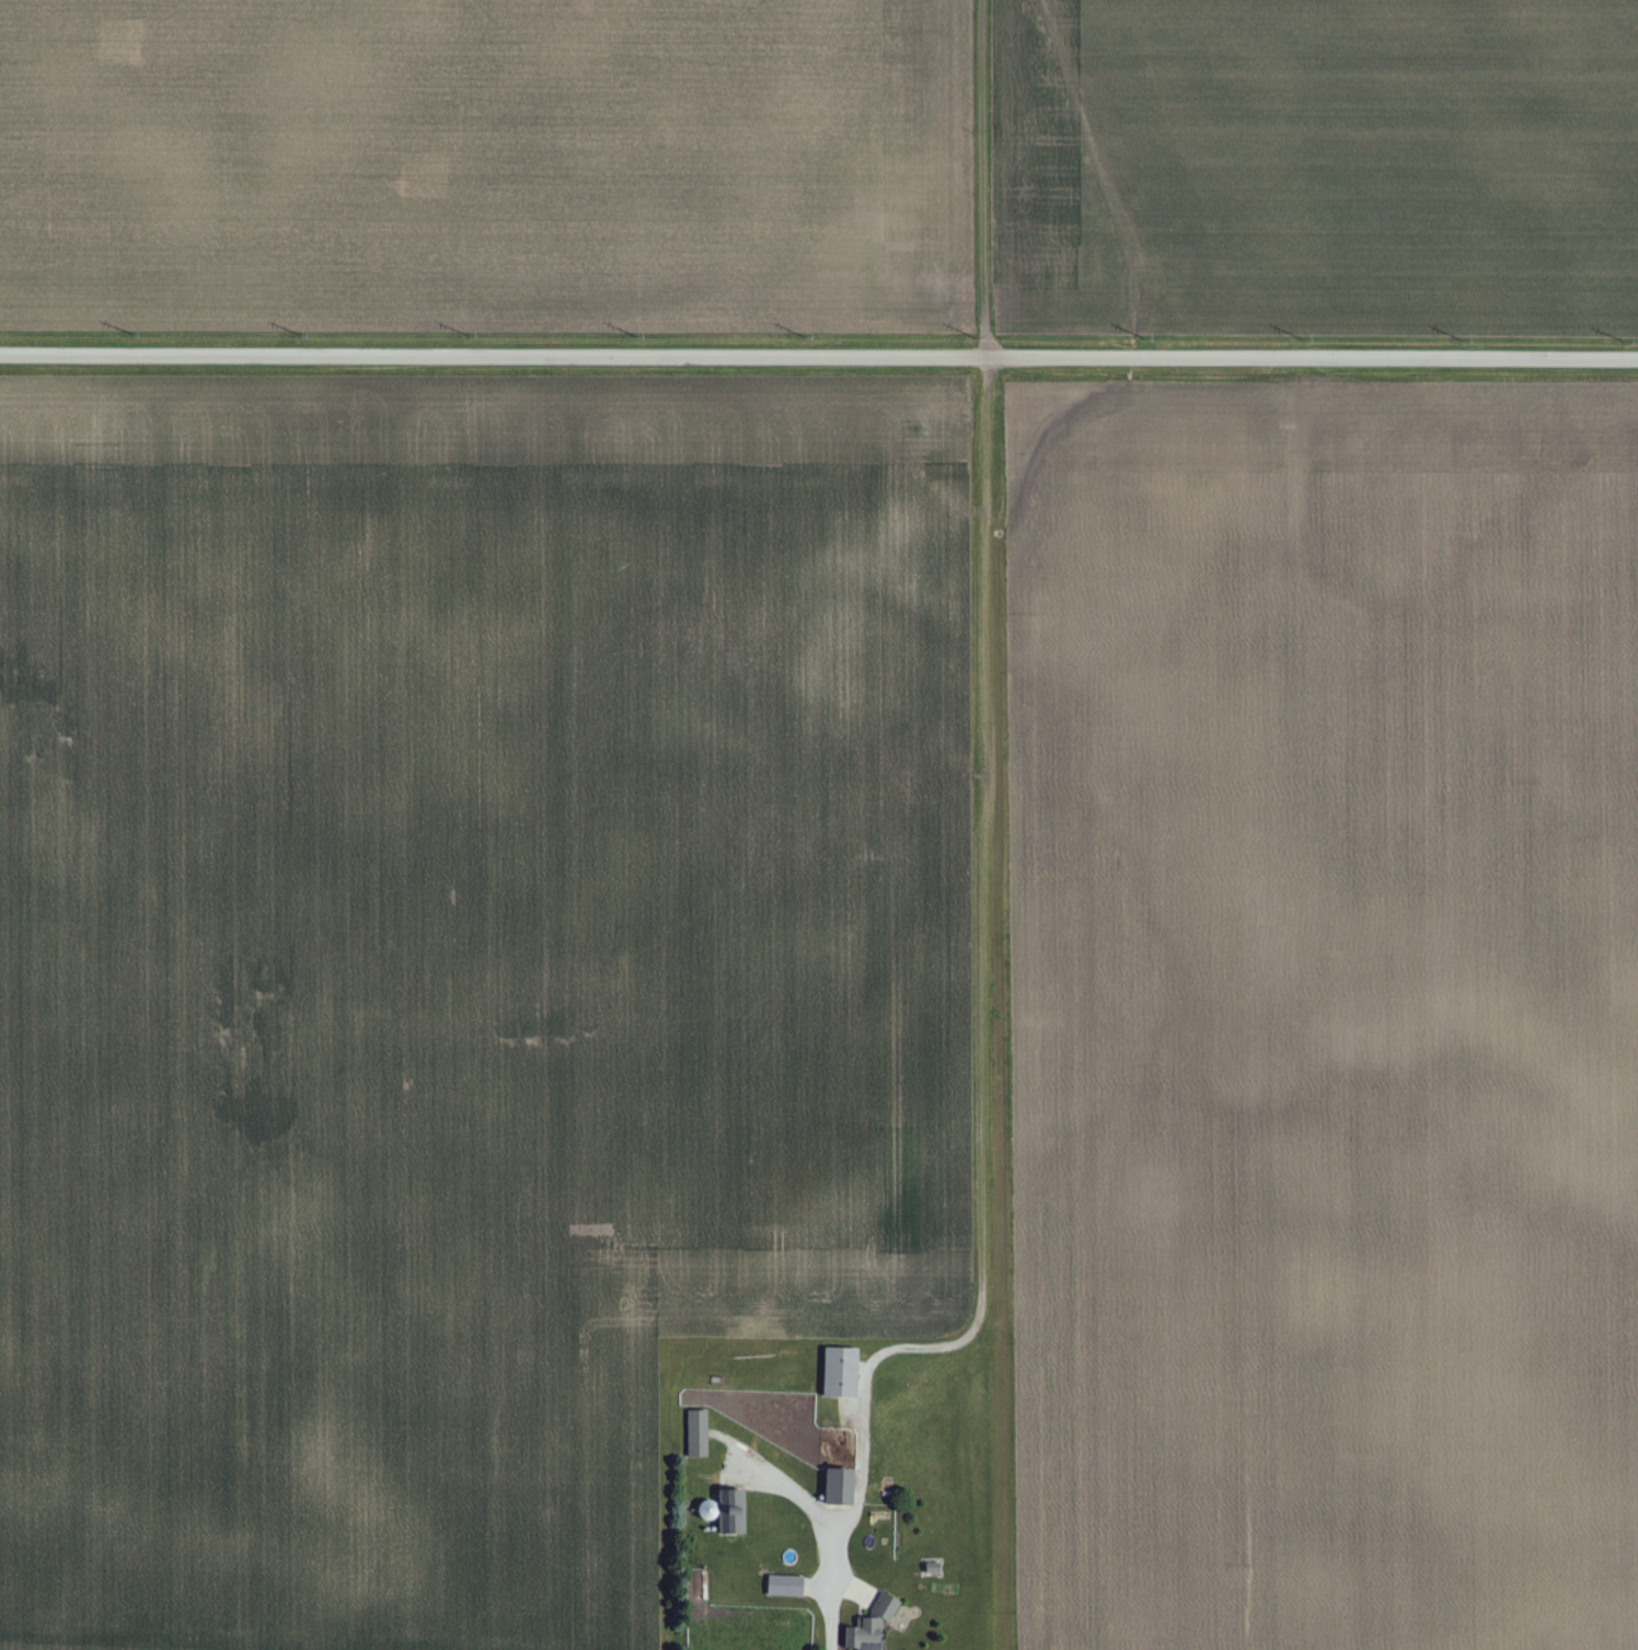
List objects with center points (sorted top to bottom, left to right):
crop: (487, 165)
road: (984, 178)
road: (818, 357)
crop: (458, 971)
crop: (1324, 1014)
road: (981, 1262)
road: (955, 1343)
building: (842, 1372)
building: (697, 1433)
building: (841, 1486)
road: (798, 1495)
road: (853, 1503)
building: (710, 1510)
building: (733, 1511)
building: (932, 1568)
road: (839, 1584)
building: (785, 1585)
road: (817, 1589)
road: (863, 1594)
building: (870, 1626)

